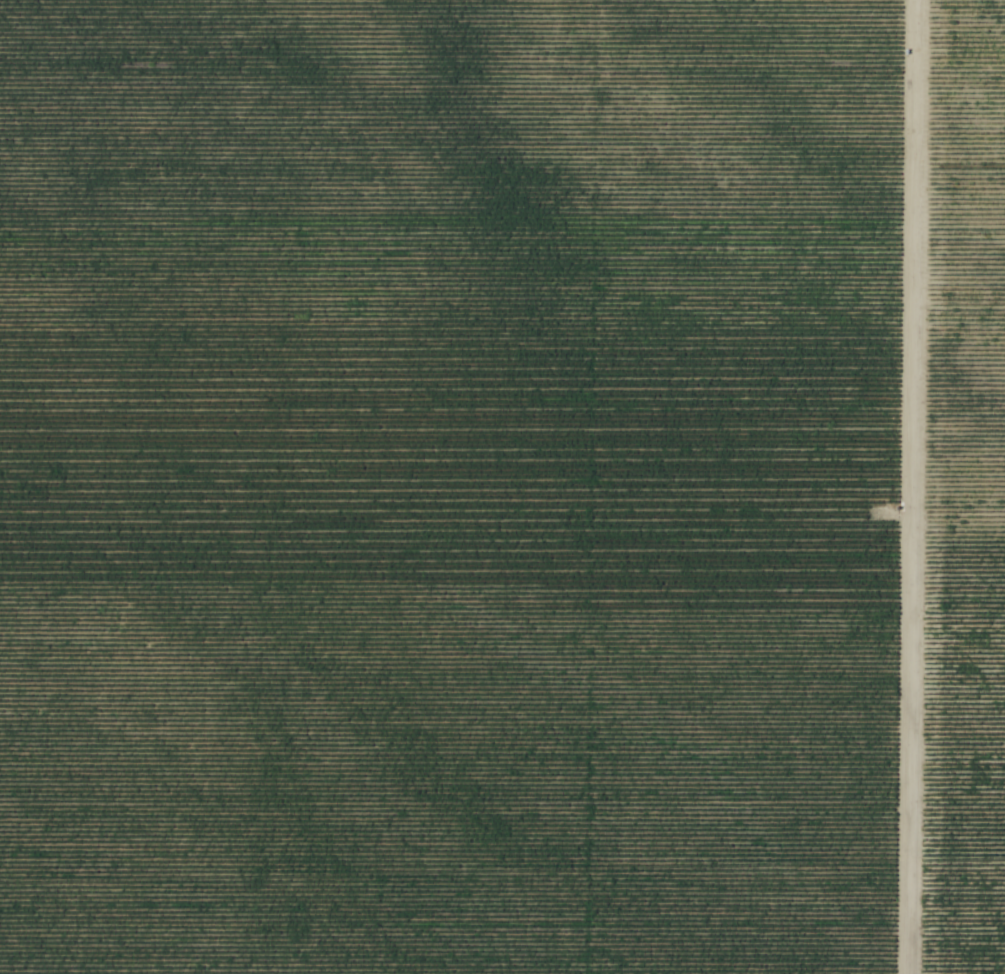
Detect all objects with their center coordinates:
crop: (446, 486)
road: (908, 487)

